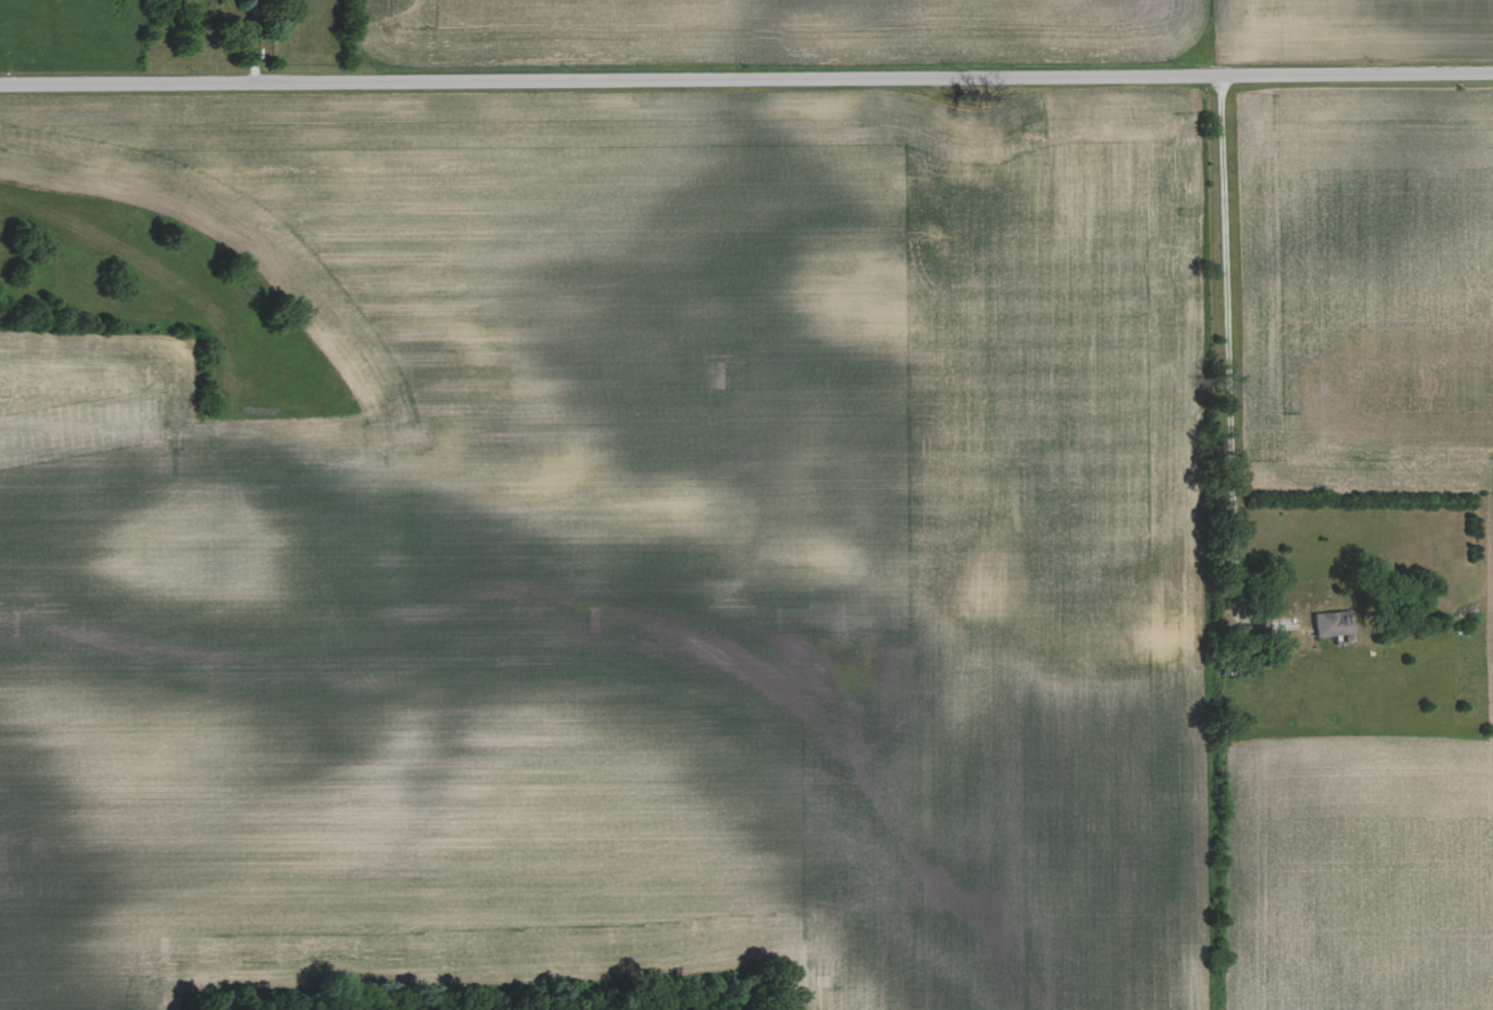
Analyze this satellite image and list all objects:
road: (249, 40)
road: (746, 76)
road: (1228, 366)
building: (1331, 621)

